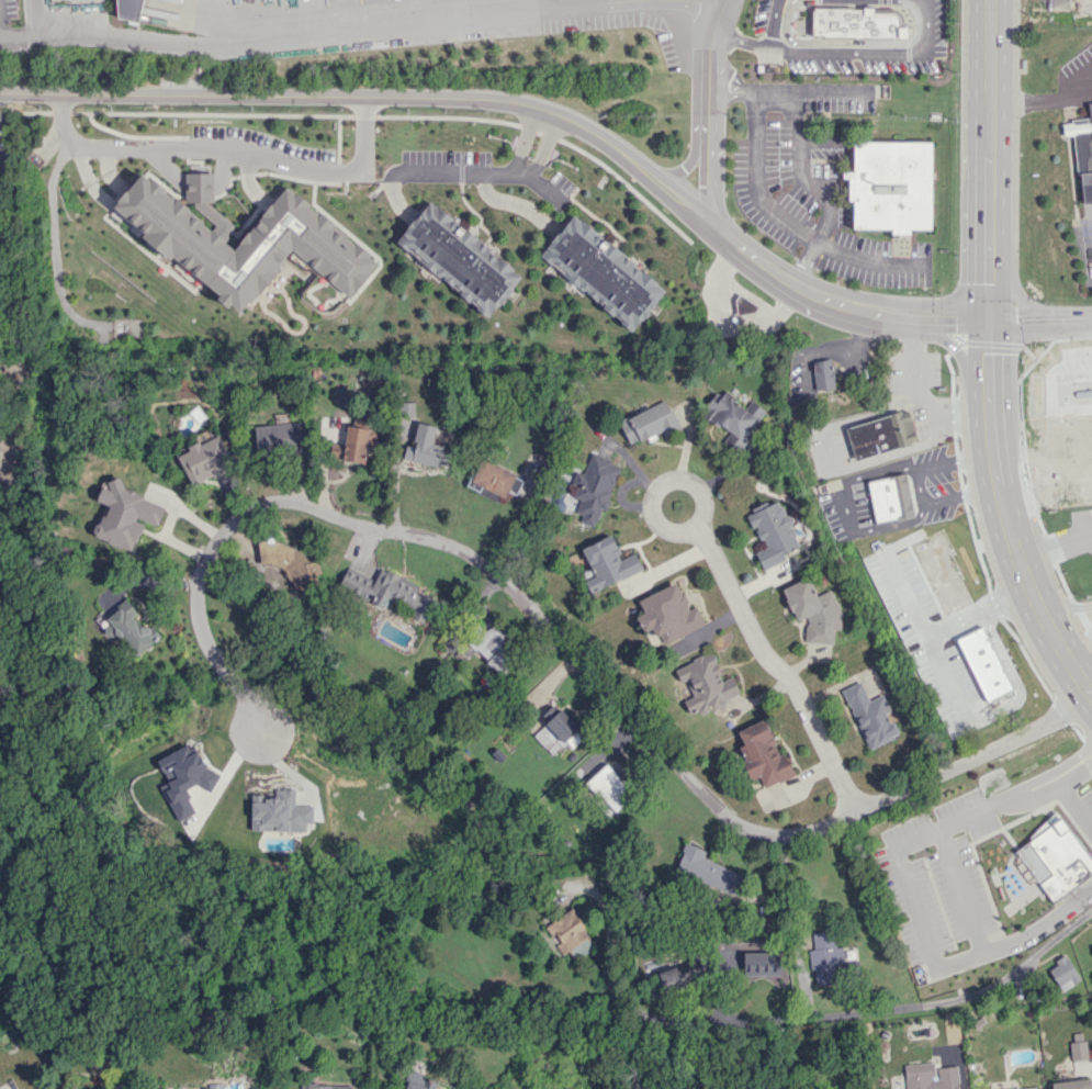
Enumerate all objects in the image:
road: (696, 7)
building: (133, 10)
building: (856, 22)
road: (769, 24)
road: (21, 30)
road: (314, 37)
road: (837, 52)
road: (371, 97)
road: (1044, 98)
road: (707, 109)
road: (988, 122)
road: (362, 133)
road: (522, 143)
road: (543, 148)
building: (1082, 151)
road: (269, 159)
road: (687, 161)
road: (756, 186)
building: (890, 186)
building: (199, 187)
road: (54, 240)
building: (241, 243)
building: (461, 258)
road: (867, 261)
building: (604, 271)
road: (793, 290)
road: (1014, 291)
building: (745, 305)
road: (1077, 317)
road: (728, 319)
road: (1024, 319)
road: (944, 321)
road: (987, 321)
traffic signals: (987, 321)
building: (126, 327)
road: (1062, 337)
road: (954, 348)
road: (1078, 356)
building: (822, 374)
building: (406, 408)
road: (1031, 411)
building: (1083, 417)
building: (648, 423)
building: (735, 425)
road: (1072, 425)
building: (880, 434)
building: (278, 437)
building: (353, 444)
building: (426, 447)
building: (204, 460)
building: (495, 478)
building: (594, 487)
road: (1087, 494)
building: (889, 498)
road: (998, 498)
road: (1040, 501)
building: (124, 514)
building: (772, 534)
road: (1054, 544)
building: (607, 563)
building: (290, 564)
park: (11, 581)
building: (387, 591)
road: (733, 597)
road: (1060, 605)
building: (813, 610)
building: (668, 614)
building: (131, 627)
road: (943, 635)
road: (1054, 638)
road: (564, 647)
building: (492, 648)
road: (1083, 651)
building: (983, 664)
road: (950, 678)
building: (703, 684)
road: (1085, 688)
building: (869, 716)
building: (558, 732)
road: (1084, 754)
building: (762, 755)
road: (1089, 762)
road: (1050, 772)
building: (182, 776)
road: (1058, 784)
building: (608, 789)
road: (1021, 789)
road: (1024, 795)
road: (1077, 806)
building: (279, 812)
building: (1055, 858)
building: (702, 867)
road: (965, 887)
road: (791, 928)
road: (917, 928)
building: (567, 930)
building: (1091, 943)
building: (581, 948)
building: (826, 959)
building: (1062, 974)
building: (684, 976)
road: (926, 1006)
building: (1078, 1046)
building: (930, 1077)
building: (420, 1081)
building: (1070, 1085)
building: (325, 1087)

